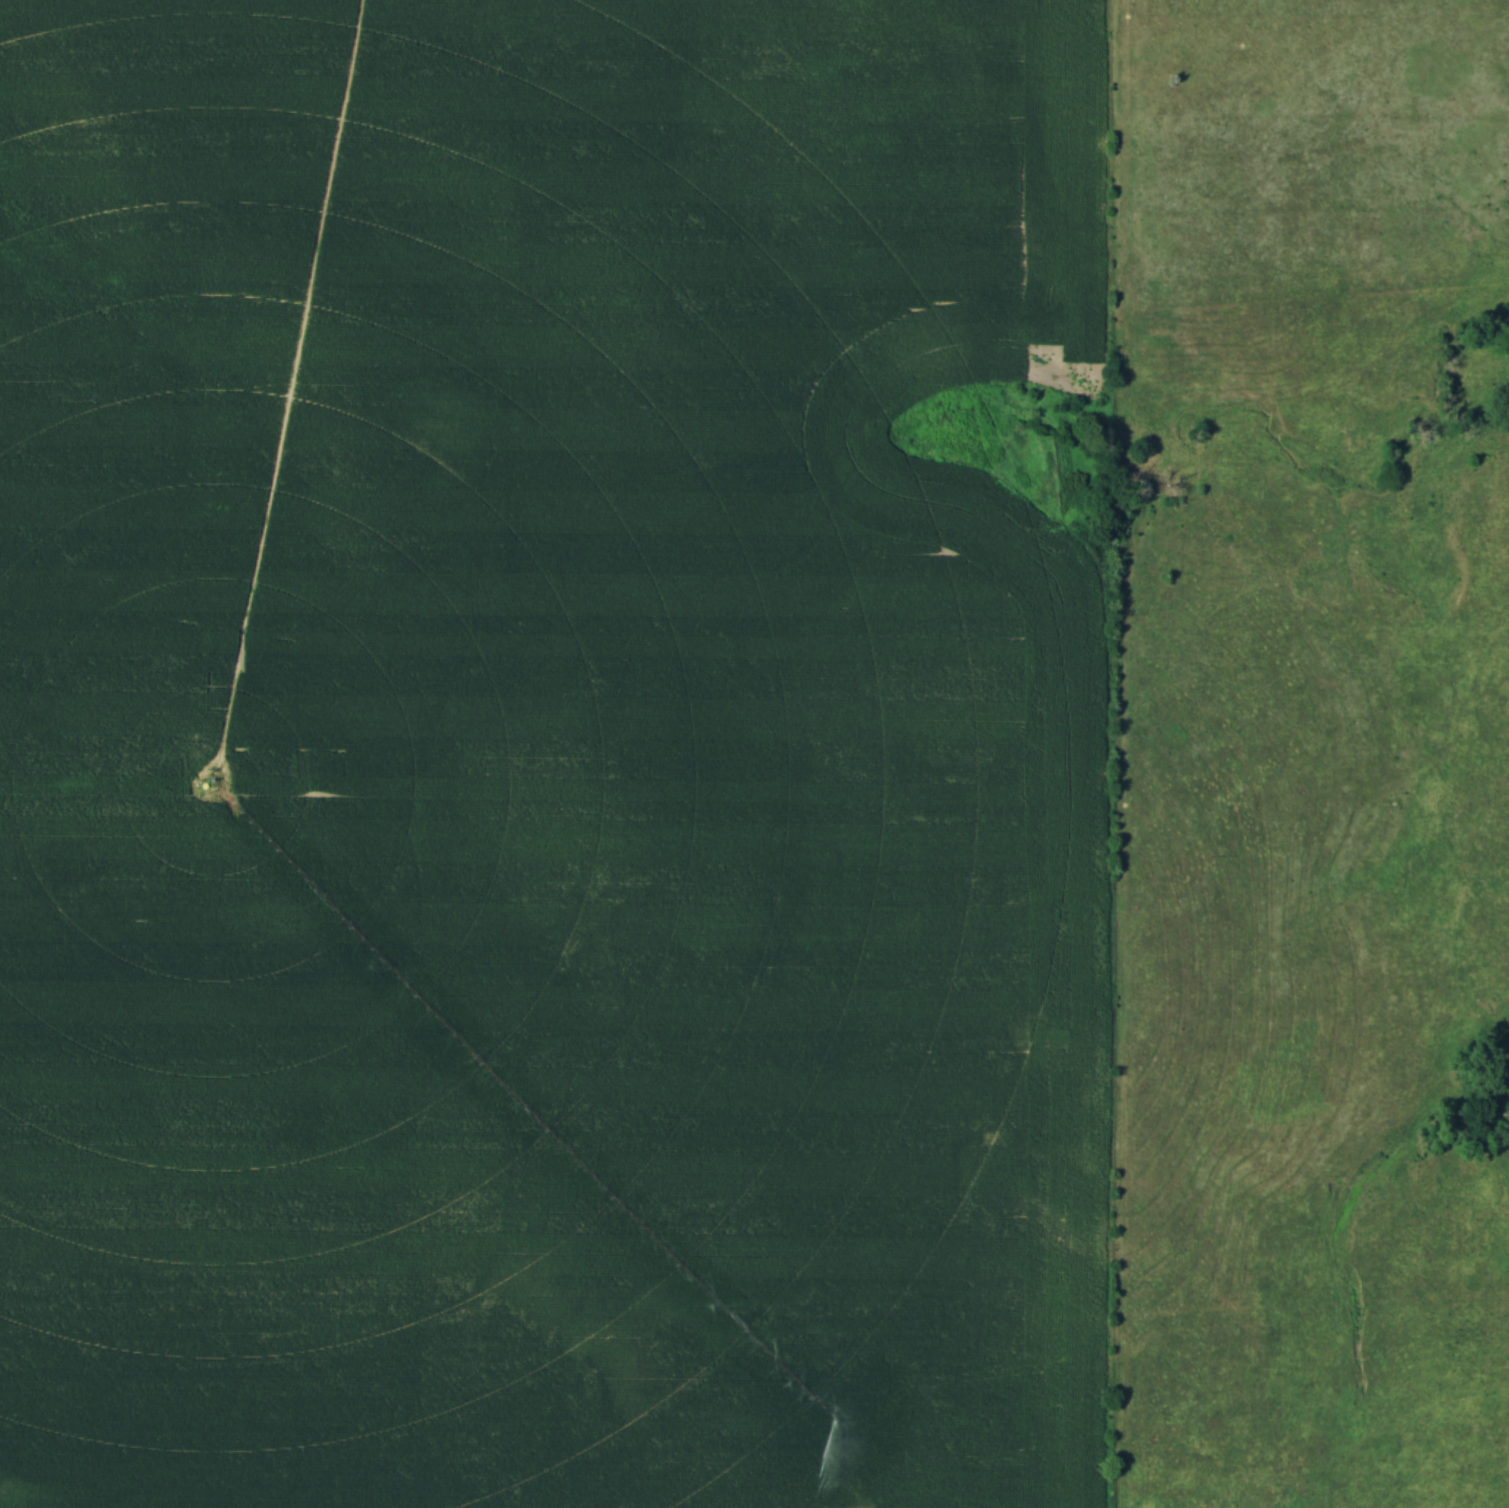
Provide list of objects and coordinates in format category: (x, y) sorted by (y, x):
river: (1495, 1105)

